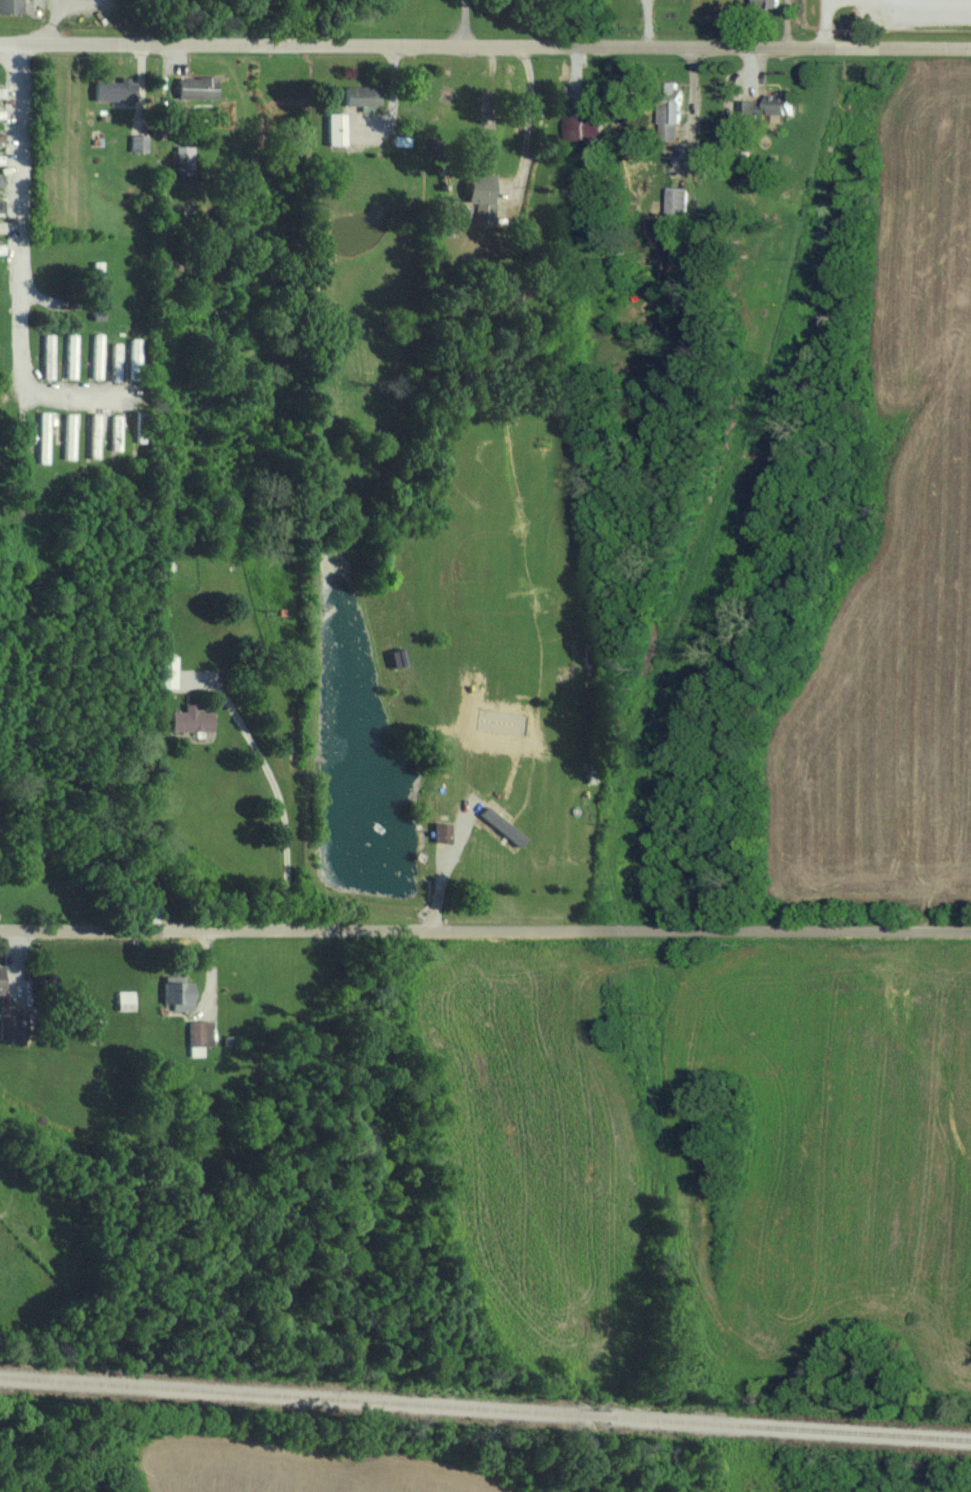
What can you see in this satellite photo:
building: (768, 3)
building: (11, 5)
parking lot: (927, 11)
road: (463, 21)
road: (825, 22)
road: (485, 44)
building: (195, 86)
building: (114, 90)
building: (362, 95)
building: (770, 104)
building: (1, 112)
building: (671, 118)
road: (527, 121)
building: (335, 127)
building: (0, 135)
building: (137, 142)
building: (1, 158)
building: (183, 158)
building: (1, 179)
building: (481, 195)
building: (678, 202)
building: (0, 204)
building: (447, 217)
building: (1, 225)
building: (1, 248)
road: (15, 267)
building: (96, 282)
building: (134, 350)
building: (47, 355)
building: (70, 355)
building: (96, 355)
building: (115, 361)
building: (115, 431)
building: (94, 434)
building: (69, 435)
building: (43, 436)
building: (165, 672)
building: (191, 719)
road: (277, 795)
building: (499, 824)
building: (441, 832)
road: (485, 930)
building: (1, 977)
building: (178, 995)
building: (125, 1000)
building: (198, 1036)
railway: (485, 1408)

